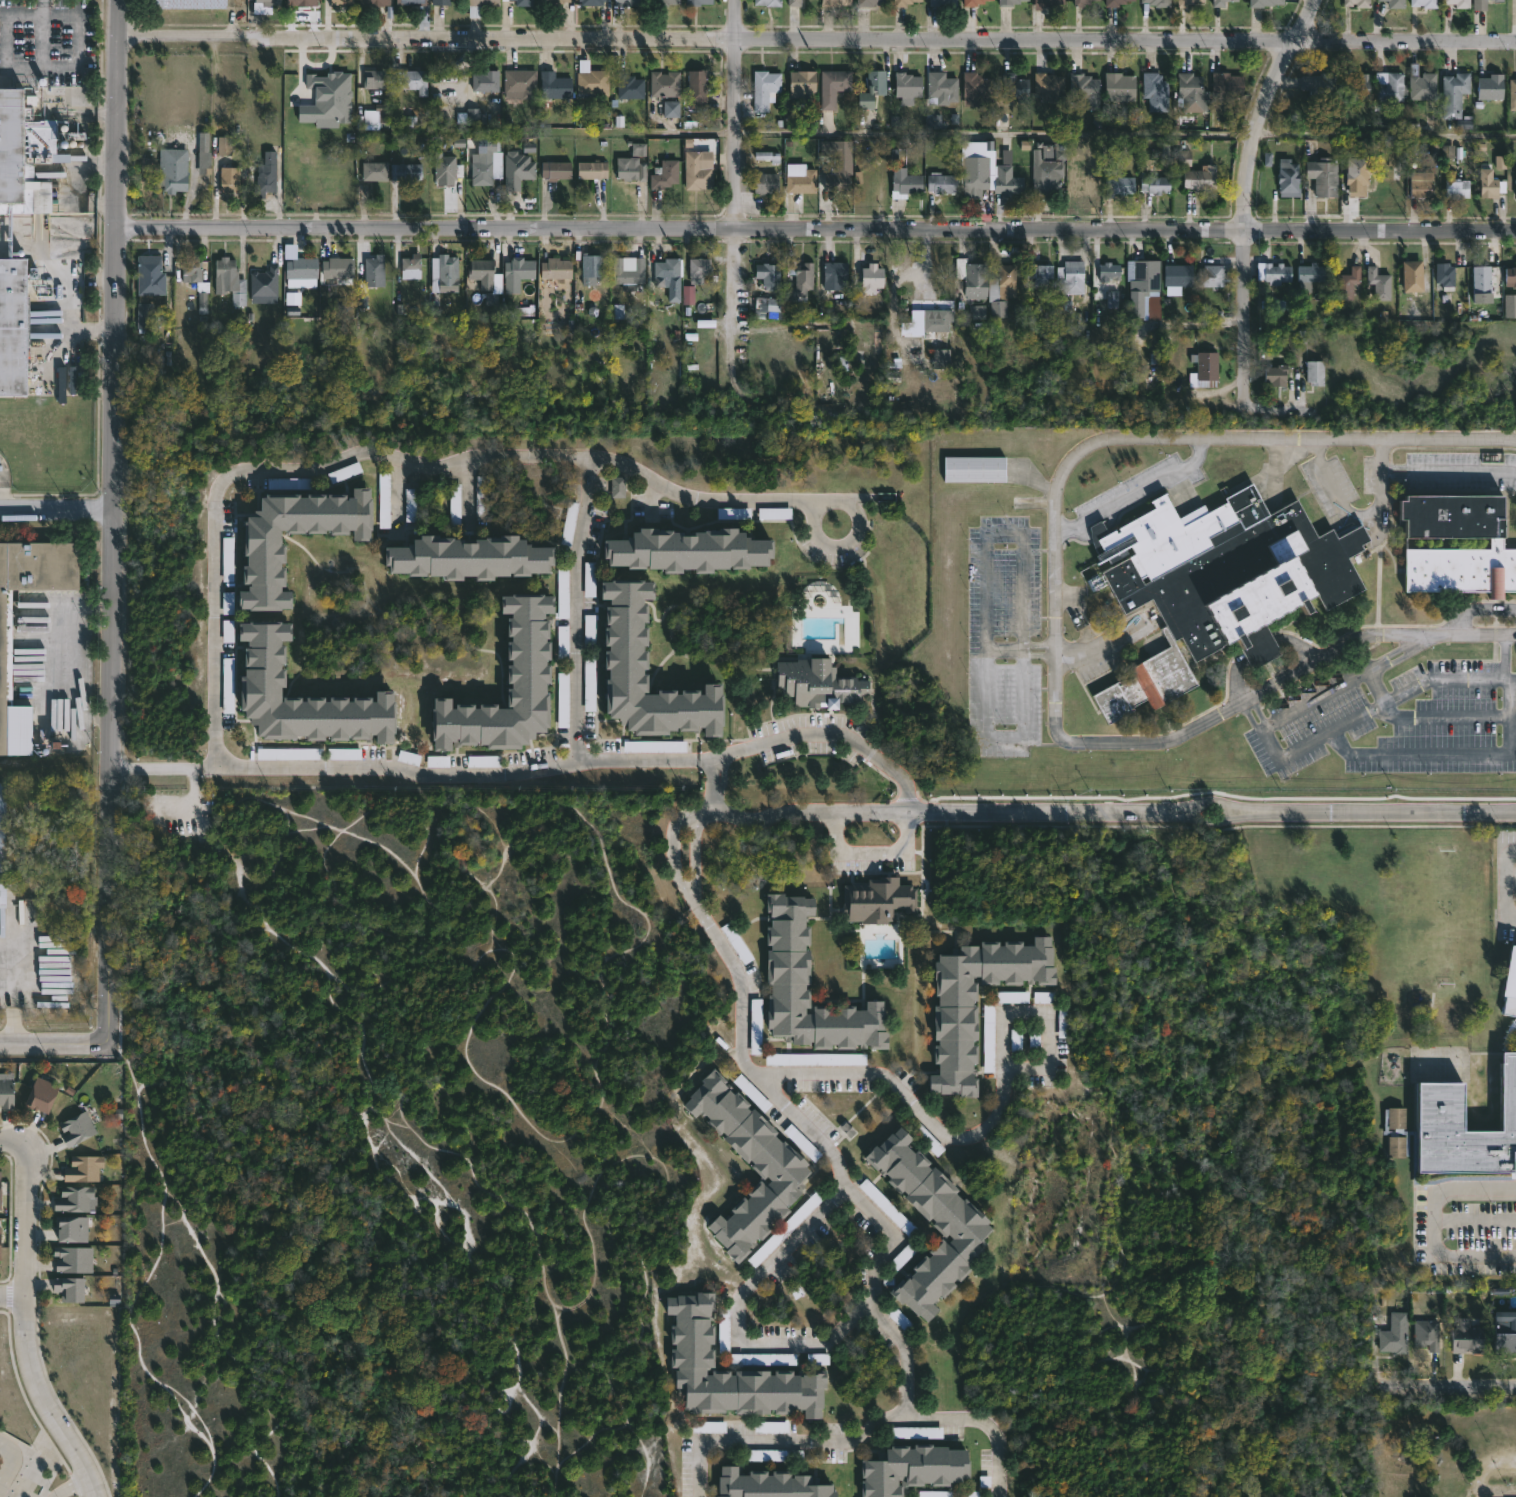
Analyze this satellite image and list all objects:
building: (1026, 0)
building: (1391, 0)
building: (1497, 0)
building: (301, 2)
building: (340, 2)
building: (373, 2)
building: (410, 2)
building: (440, 2)
building: (554, 2)
building: (591, 2)
building: (626, 2)
building: (665, 2)
building: (696, 2)
building: (836, 2)
building: (904, 2)
building: (943, 2)
building: (973, 2)
building: (1082, 2)
building: (1115, 2)
building: (264, 3)
building: (522, 3)
building: (767, 3)
building: (794, 3)
building: (870, 3)
building: (1007, 3)
building: (1158, 3)
building: (1187, 3)
building: (1221, 3)
building: (1264, 3)
building: (1357, 3)
building: (1425, 3)
building: (1459, 3)
building: (187, 4)
building: (1046, 4)
building: (1479, 5)
building: (479, 6)
road: (42, 7)
road: (20, 14)
road: (816, 38)
road: (4, 41)
road: (77, 65)
building: (486, 78)
building: (372, 79)
building: (414, 81)
building: (519, 81)
building: (591, 84)
building: (664, 84)
building: (802, 84)
building: (1422, 84)
building: (1227, 85)
building: (1319, 85)
building: (554, 86)
building: (1390, 86)
building: (630, 87)
building: (833, 87)
building: (907, 87)
building: (1049, 87)
building: (1119, 87)
building: (1357, 87)
building: (1492, 87)
building: (942, 88)
building: (1015, 88)
building: (697, 89)
building: (765, 89)
building: (872, 89)
building: (976, 89)
building: (1084, 91)
building: (1155, 92)
building: (1191, 92)
building: (1455, 94)
building: (1513, 94)
building: (672, 109)
road: (115, 114)
road: (993, 132)
building: (37, 144)
road: (1247, 144)
building: (225, 146)
building: (764, 157)
building: (485, 162)
building: (447, 168)
building: (840, 168)
building: (556, 170)
building: (592, 170)
building: (697, 170)
building: (374, 171)
building: (516, 171)
building: (630, 171)
building: (406, 172)
road: (736, 174)
building: (664, 175)
building: (1358, 175)
building: (265, 176)
building: (1046, 176)
building: (1324, 177)
building: (169, 178)
building: (229, 179)
building: (800, 179)
building: (1201, 179)
building: (1288, 179)
building: (975, 182)
building: (1007, 182)
building: (765, 183)
building: (905, 184)
building: (942, 184)
building: (1155, 184)
building: (1421, 184)
building: (1118, 185)
building: (1489, 186)
building: (1457, 189)
road: (815, 228)
building: (224, 268)
building: (337, 268)
building: (410, 268)
building: (590, 269)
building: (190, 270)
building: (698, 270)
building: (373, 271)
building: (518, 271)
building: (554, 271)
building: (665, 271)
building: (300, 272)
building: (1108, 272)
building: (445, 273)
building: (628, 273)
building: (1311, 273)
building: (1444, 273)
building: (1277, 274)
building: (149, 275)
building: (485, 275)
building: (768, 275)
building: (1043, 275)
building: (1178, 275)
building: (1412, 275)
building: (834, 276)
building: (1213, 276)
building: (1511, 276)
building: (1070, 278)
building: (871, 279)
building: (798, 280)
building: (263, 283)
building: (1142, 283)
building: (1482, 283)
building: (985, 284)
building: (1348, 284)
building: (1379, 284)
building: (238, 292)
building: (689, 299)
building: (1510, 306)
building: (767, 308)
building: (143, 316)
building: (12, 328)
building: (937, 334)
road: (1245, 350)
building: (1207, 367)
building: (1315, 372)
building: (1277, 375)
building: (973, 469)
building: (618, 488)
road: (397, 494)
road: (466, 494)
building: (639, 501)
road: (56, 510)
road: (215, 541)
building: (1495, 542)
road: (838, 546)
building: (262, 547)
building: (686, 551)
building: (464, 560)
building: (1217, 582)
road: (576, 607)
road: (1057, 615)
road: (110, 632)
road: (1418, 641)
building: (4, 652)
building: (622, 661)
road: (1388, 665)
building: (524, 678)
building: (817, 683)
building: (259, 684)
road: (1377, 687)
road: (1444, 718)
road: (1259, 727)
road: (1263, 729)
road: (1333, 732)
road: (802, 736)
road: (1454, 756)
road: (706, 761)
road: (149, 764)
road: (195, 765)
road: (207, 765)
railway: (39, 778)
road: (190, 790)
road: (1116, 809)
road: (706, 813)
parking lot: (180, 814)
building: (1, 830)
road: (873, 848)
road: (675, 858)
road: (694, 859)
road: (1507, 884)
building: (878, 900)
building: (737, 944)
building: (784, 967)
road: (600, 973)
building: (1508, 996)
building: (1013, 998)
building: (1045, 999)
road: (13, 1011)
road: (1046, 1016)
building: (953, 1022)
building: (1064, 1023)
road: (55, 1046)
building: (5, 1093)
building: (40, 1095)
road: (909, 1098)
building: (1440, 1107)
building: (1396, 1118)
building: (76, 1129)
road: (9, 1144)
park: (390, 1146)
building: (1396, 1147)
building: (83, 1168)
building: (780, 1169)
park: (1196, 1180)
building: (0, 1192)
building: (72, 1199)
road: (1434, 1220)
road: (1475, 1220)
building: (957, 1225)
building: (71, 1229)
building: (0, 1246)
road: (787, 1250)
building: (70, 1258)
building: (66, 1287)
road: (10, 1297)
road: (23, 1328)
building: (1505, 1330)
building: (1395, 1335)
building: (1427, 1335)
building: (1466, 1337)
building: (689, 1357)
road: (1445, 1387)
road: (556, 1397)
road: (981, 1423)
road: (843, 1442)
road: (10, 1456)
building: (911, 1468)
building: (767, 1484)
road: (70, 1488)

